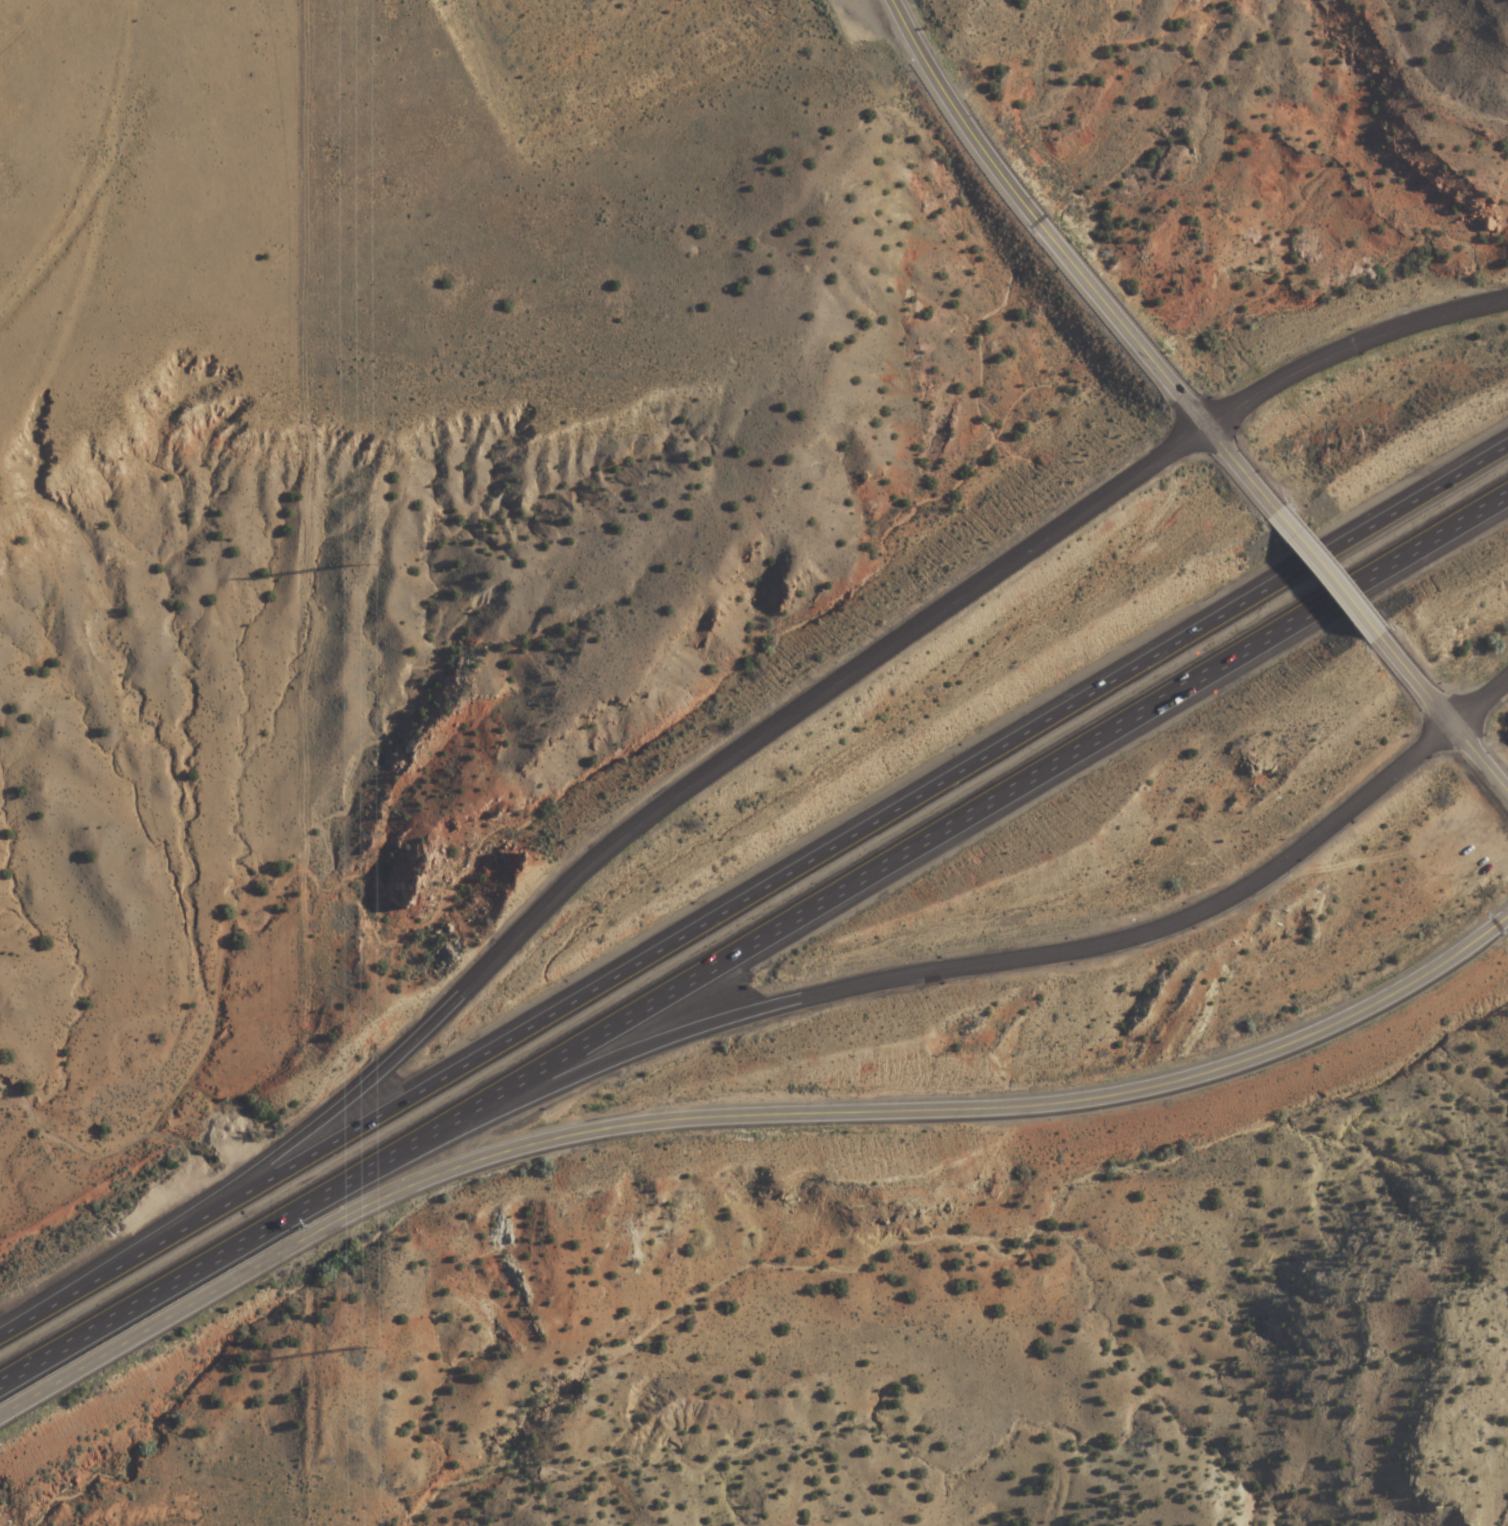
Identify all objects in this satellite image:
road: (1073, 265)
road: (1351, 352)
power tower: (367, 568)
road: (1332, 578)
road: (1418, 683)
road: (1479, 701)
road: (1479, 758)
road: (630, 834)
road: (754, 895)
road: (754, 941)
road: (894, 984)
road: (740, 1117)
power tower: (373, 1344)

